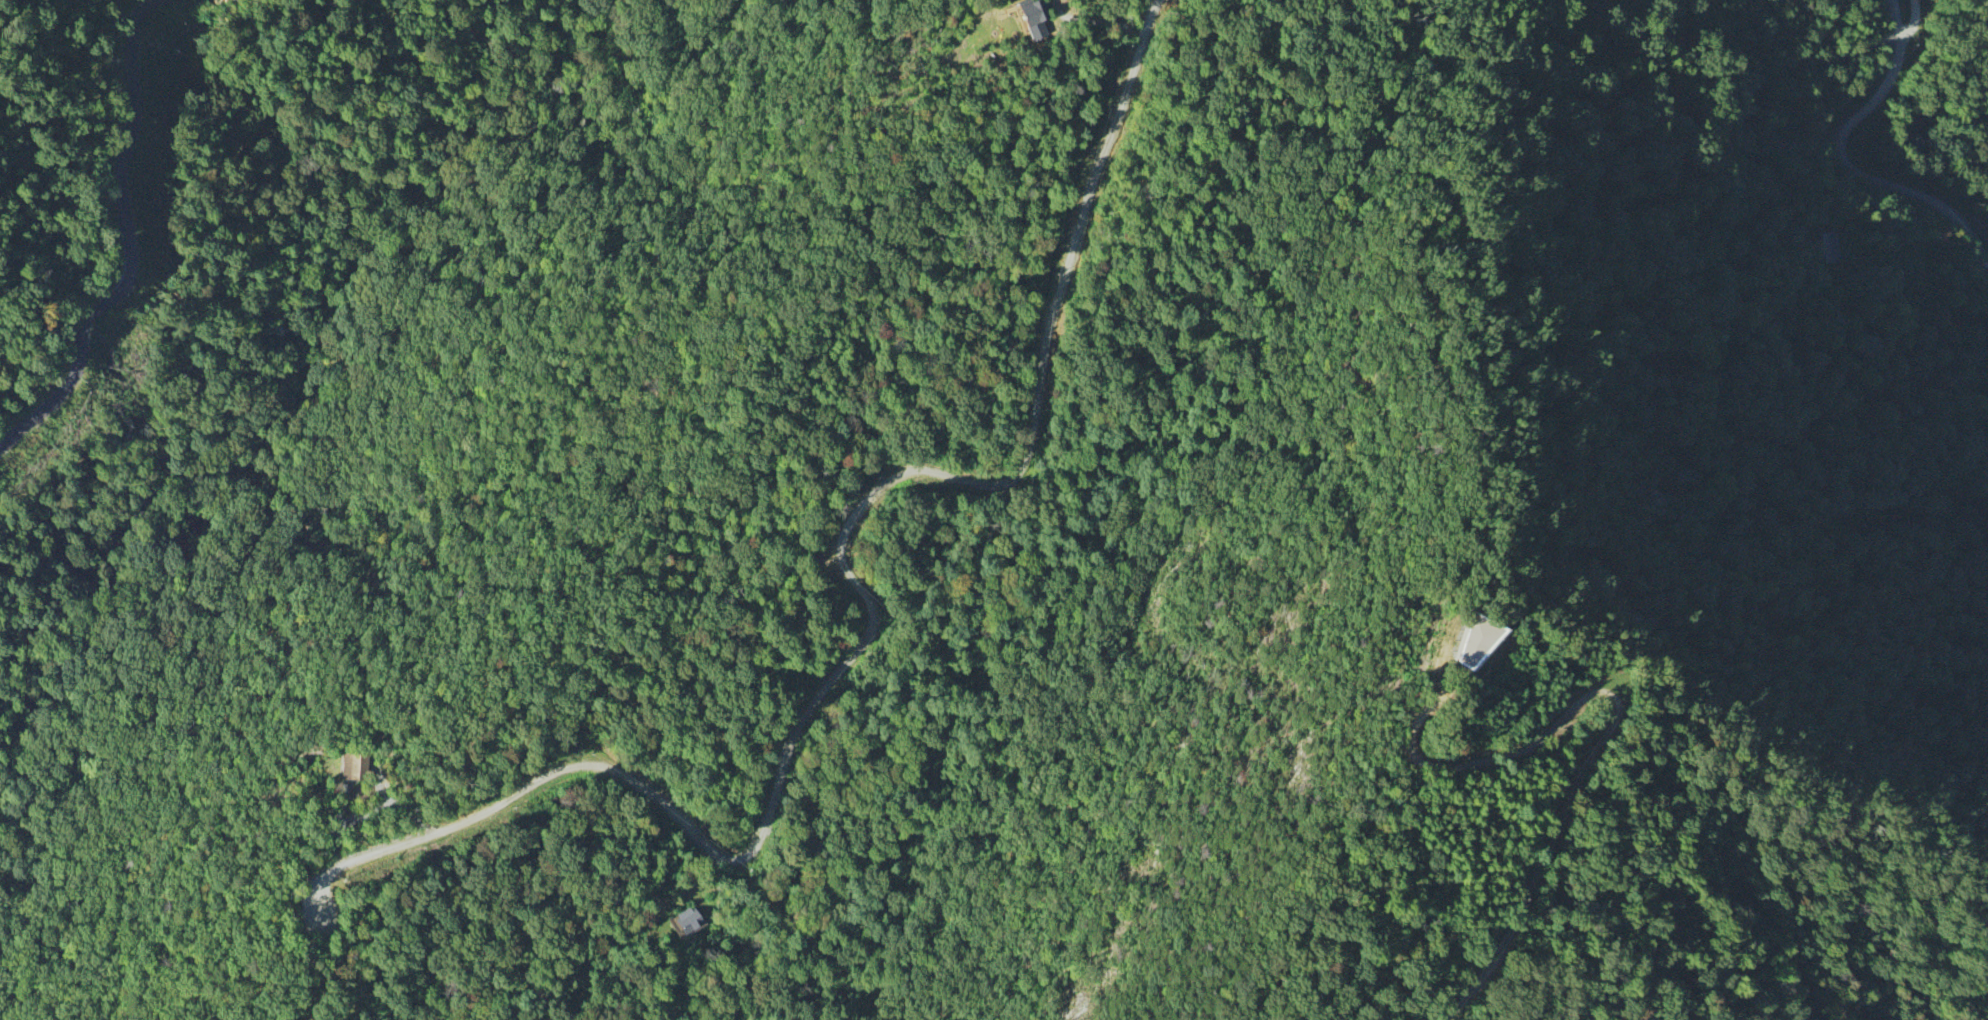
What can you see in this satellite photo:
building: (1035, 18)
road: (1895, 19)
road: (1842, 164)
road: (129, 244)
building: (1823, 250)
road: (866, 599)
road: (1607, 729)
building: (354, 768)
building: (690, 921)

